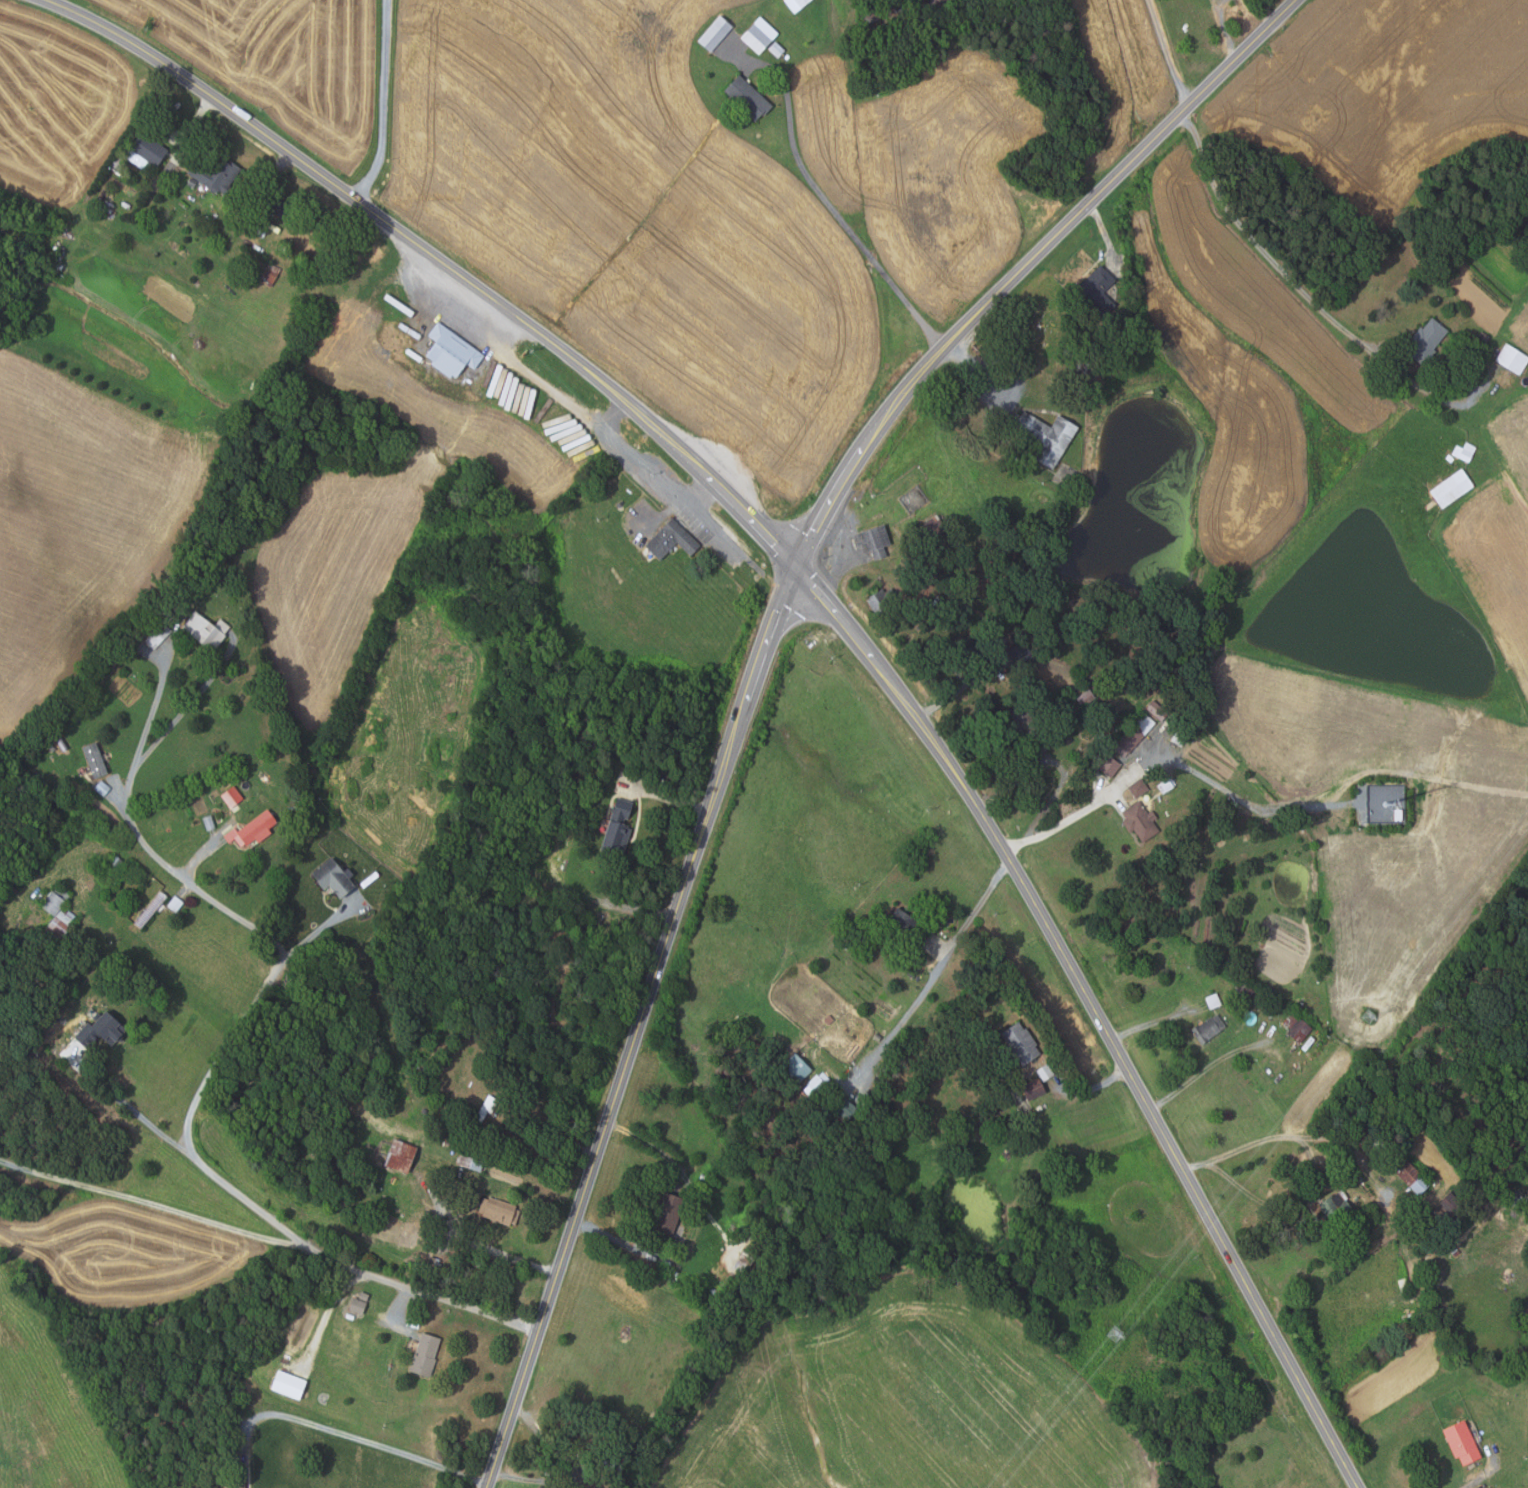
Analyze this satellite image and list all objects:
building: (795, 4)
building: (940, 5)
building: (884, 10)
road: (1223, 28)
building: (714, 33)
building: (758, 34)
building: (776, 49)
road: (1166, 54)
building: (786, 56)
crop: (277, 61)
building: (747, 98)
crop: (57, 105)
road: (390, 105)
road: (192, 126)
building: (143, 152)
crop: (924, 162)
building: (213, 171)
road: (271, 180)
building: (191, 183)
road: (830, 204)
building: (275, 205)
crop: (636, 217)
road: (1104, 233)
building: (306, 238)
road: (1283, 269)
building: (268, 274)
building: (1096, 292)
road: (496, 322)
park: (1033, 326)
building: (1426, 341)
building: (1480, 341)
building: (450, 352)
building: (1512, 359)
building: (1082, 364)
road: (981, 369)
road: (549, 389)
building: (1080, 393)
road: (614, 417)
building: (1045, 436)
building: (1464, 452)
building: (1451, 488)
crop: (367, 491)
crop: (78, 520)
building: (935, 528)
building: (671, 539)
building: (876, 541)
traffic signals: (796, 567)
building: (883, 600)
road: (841, 620)
building: (157, 628)
building: (204, 631)
building: (969, 652)
building: (1021, 654)
road: (757, 667)
building: (148, 675)
road: (959, 689)
building: (1085, 698)
road: (185, 708)
building: (1157, 709)
road: (152, 714)
building: (1030, 728)
building: (1135, 732)
building: (1180, 736)
building: (53, 746)
building: (94, 760)
road: (1166, 760)
building: (1109, 766)
building: (1165, 784)
building: (101, 788)
building: (1137, 788)
building: (230, 795)
road: (664, 797)
building: (208, 822)
building: (1140, 822)
building: (616, 826)
building: (251, 829)
road: (201, 856)
building: (114, 863)
building: (332, 876)
building: (54, 899)
building: (174, 903)
road: (976, 908)
building: (149, 909)
building: (58, 923)
building: (900, 929)
road: (316, 932)
building: (909, 966)
building: (1244, 989)
building: (55, 990)
building: (1213, 1001)
road: (908, 1011)
power tower: (1368, 1015)
road: (1157, 1020)
building: (1297, 1028)
building: (100, 1029)
building: (1207, 1029)
building: (877, 1036)
building: (1020, 1042)
building: (947, 1066)
road: (1206, 1067)
building: (423, 1070)
building: (794, 1070)
building: (1044, 1072)
building: (816, 1084)
building: (1032, 1088)
road: (1091, 1088)
road: (128, 1105)
building: (483, 1109)
building: (842, 1109)
building: (423, 1110)
road: (192, 1111)
building: (819, 1118)
road: (554, 1127)
road: (1284, 1135)
building: (399, 1155)
building: (470, 1162)
building: (1381, 1166)
building: (1345, 1175)
building: (1412, 1177)
road: (158, 1206)
road: (1286, 1207)
building: (1335, 1208)
building: (1452, 1208)
building: (498, 1210)
building: (667, 1215)
road: (699, 1225)
road: (497, 1249)
crop: (123, 1253)
building: (748, 1256)
building: (477, 1263)
building: (1404, 1286)
building: (363, 1295)
building: (356, 1305)
road: (398, 1309)
building: (448, 1310)
building: (412, 1319)
power tower: (1113, 1333)
building: (423, 1354)
building: (287, 1384)
crop: (901, 1400)
road: (356, 1436)
building: (1462, 1443)
building: (622, 1455)
road: (570, 1469)
road: (1483, 1475)
building: (231, 1483)
building: (542, 1487)

